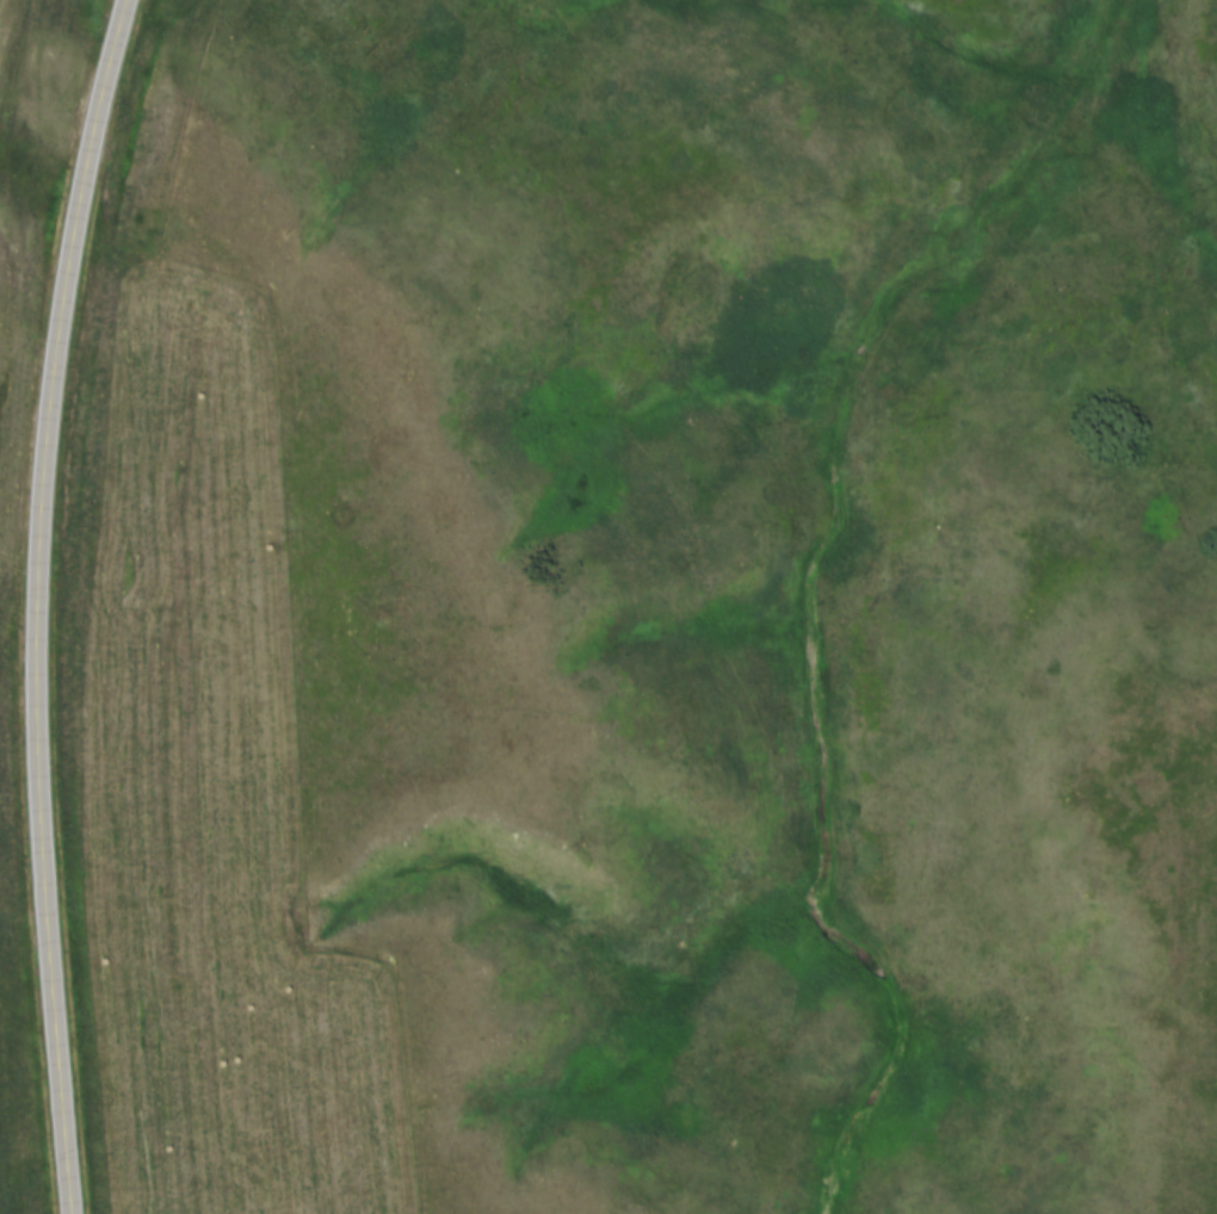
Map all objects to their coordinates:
road: (43, 603)

